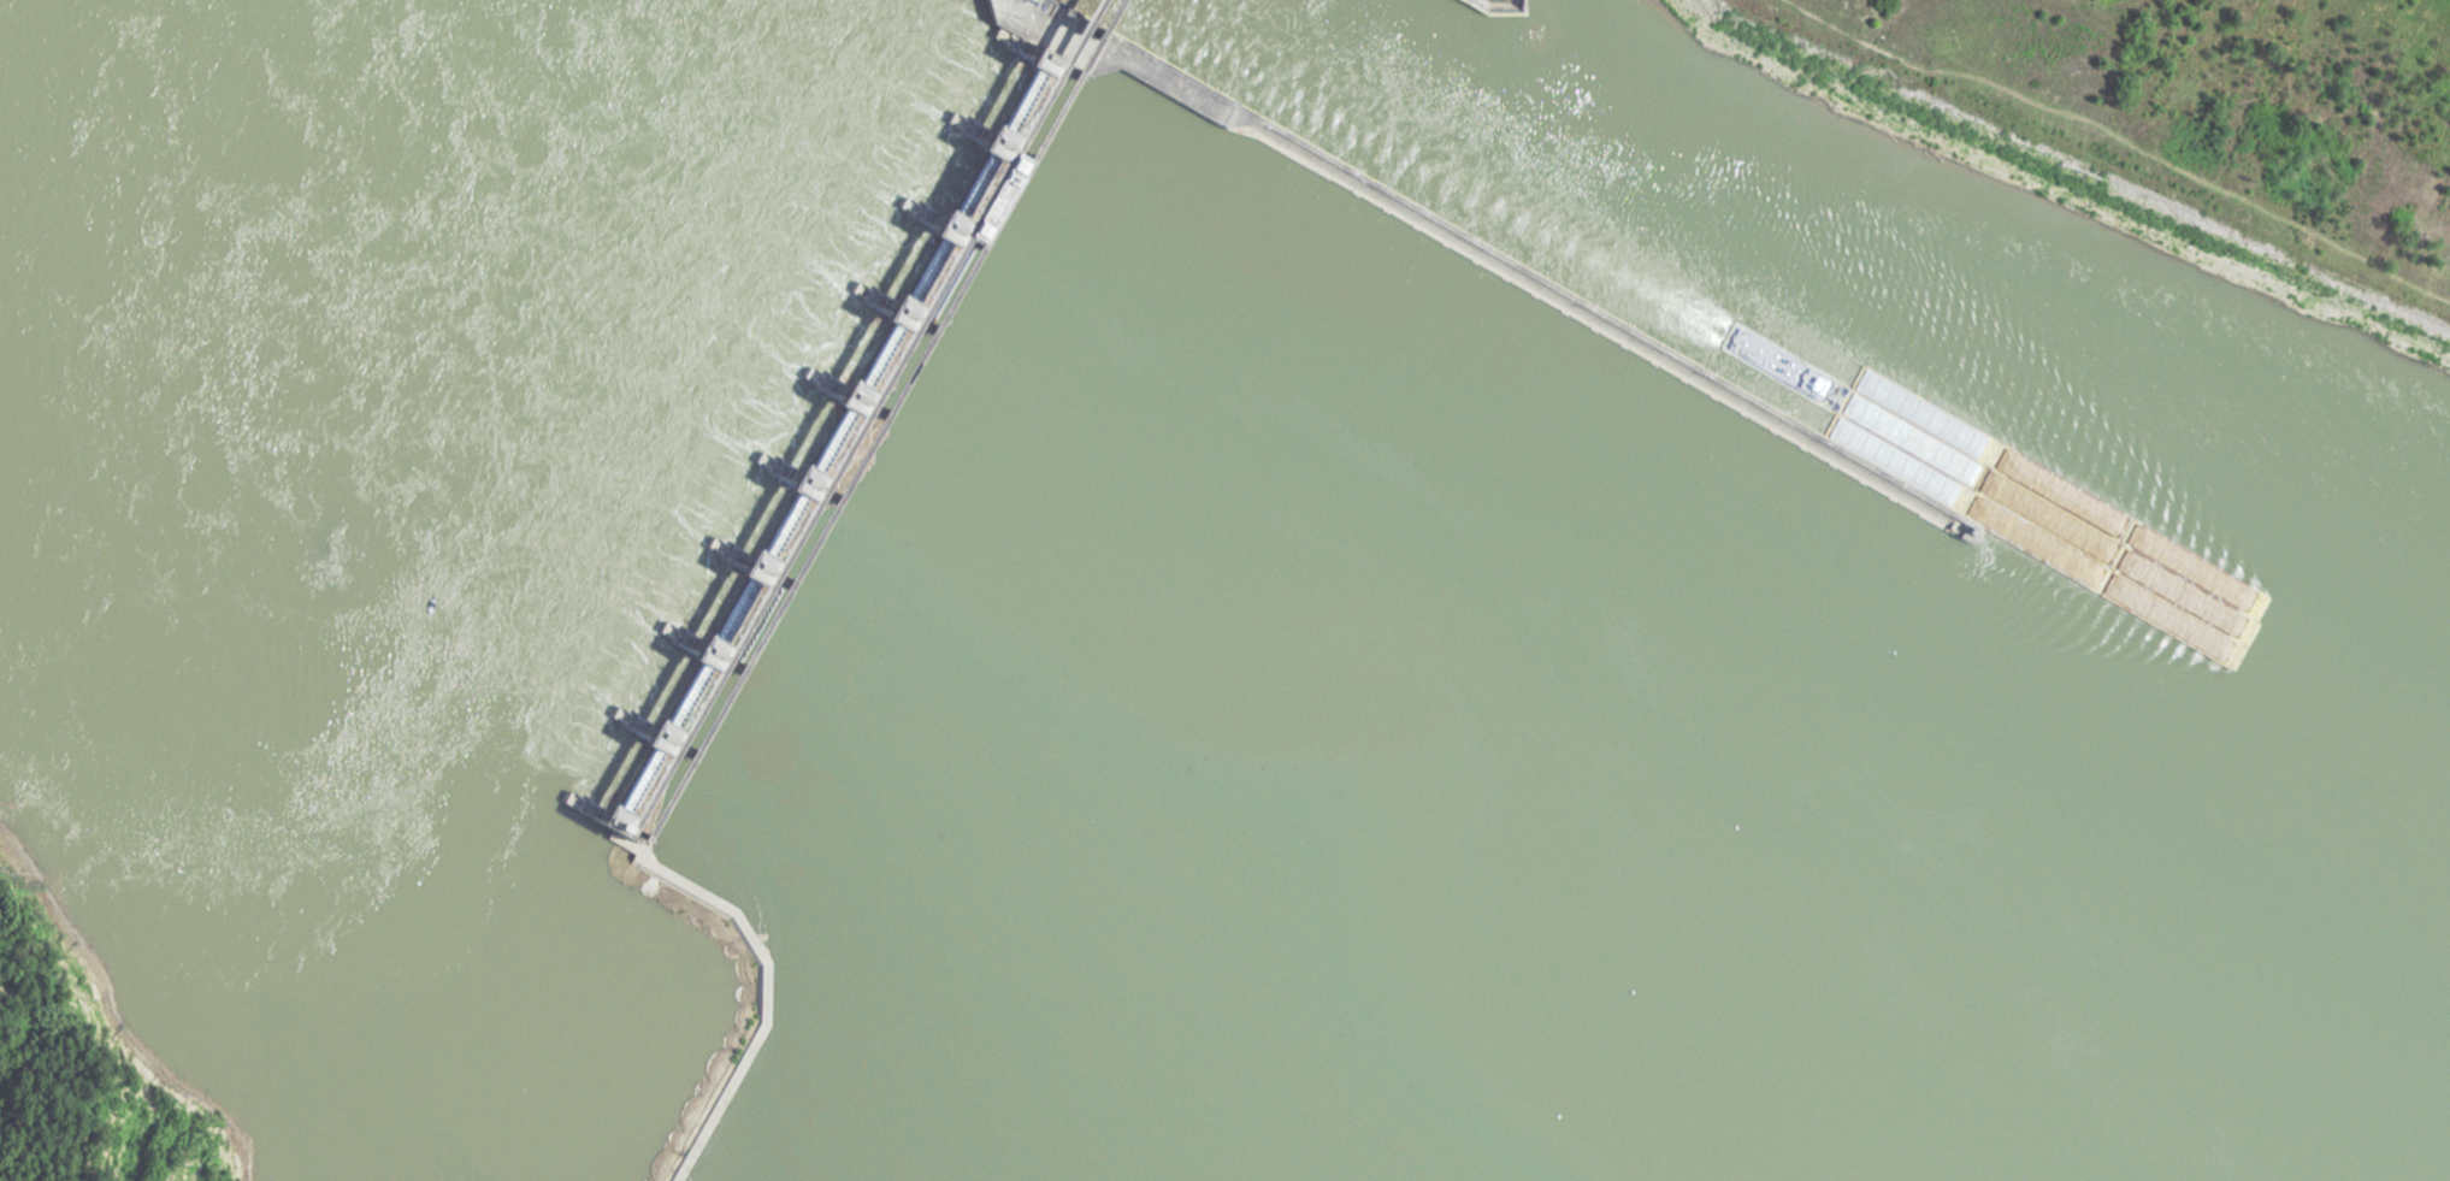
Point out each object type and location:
river: (1458, 79)
river: (1346, 85)
river: (2023, 421)
river: (775, 514)

